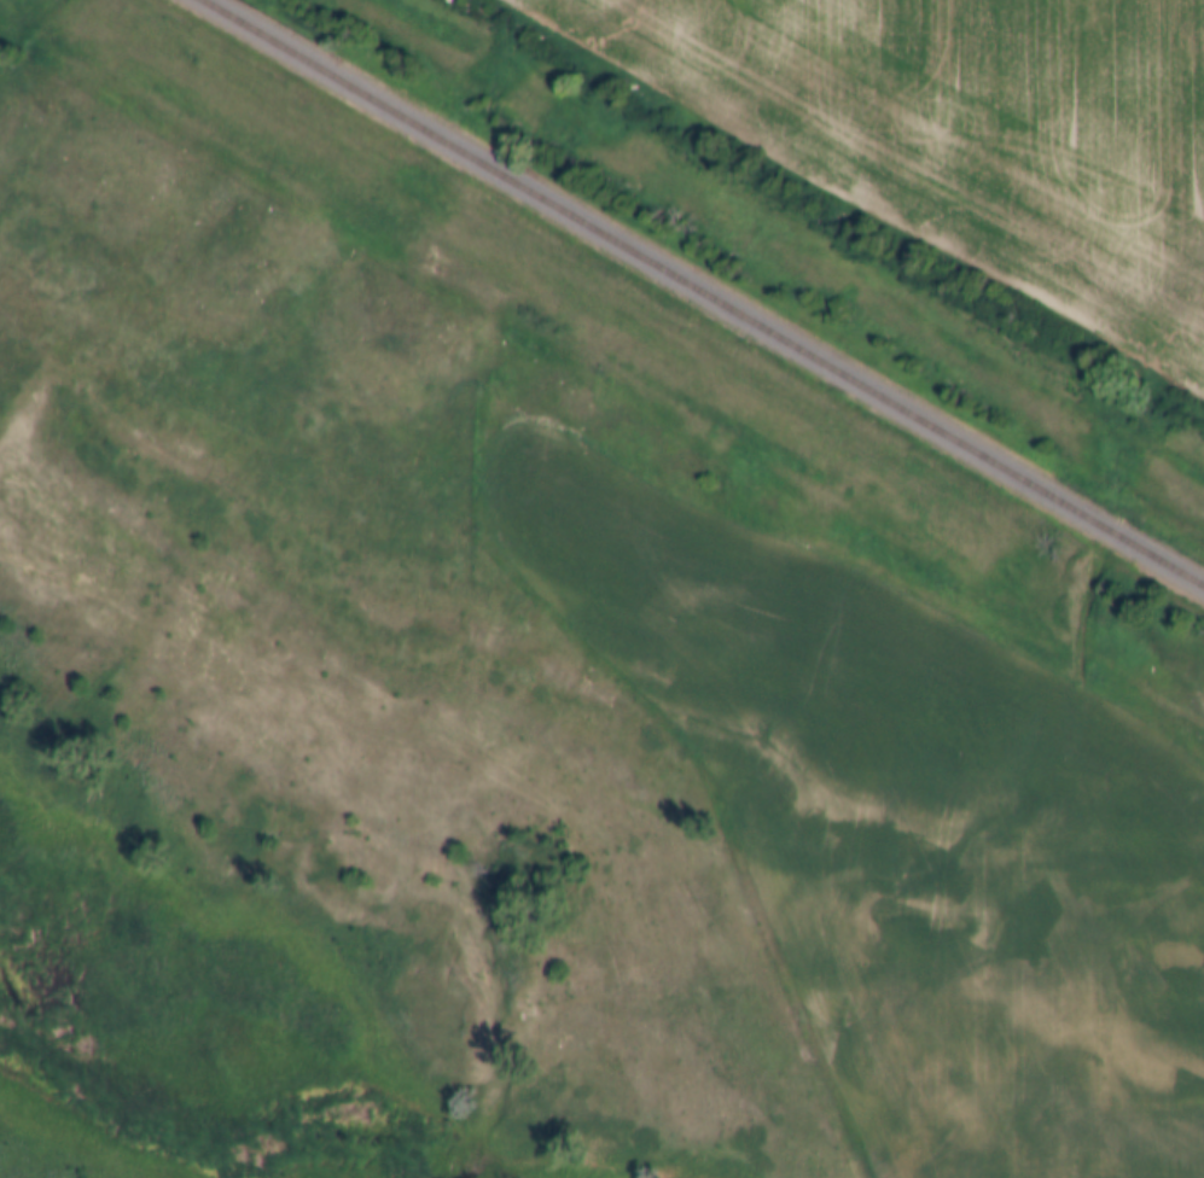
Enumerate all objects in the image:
railway: (699, 294)

